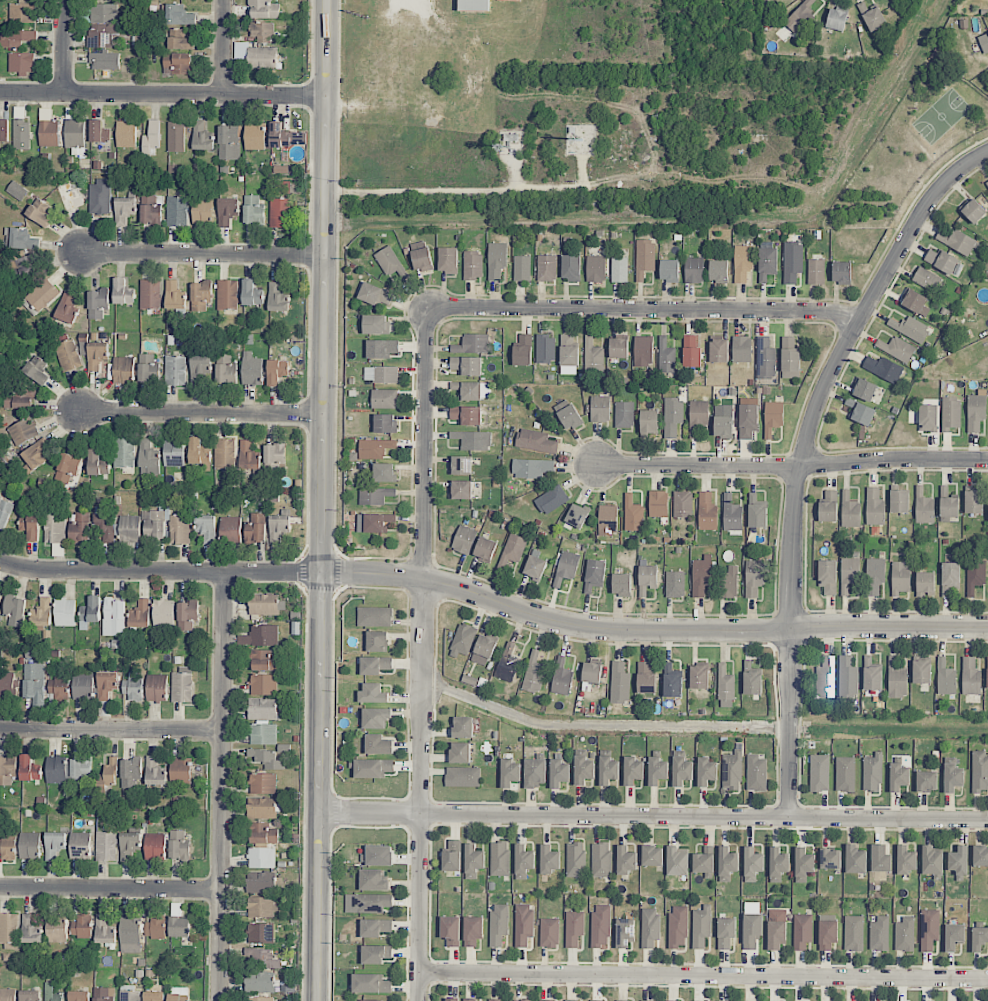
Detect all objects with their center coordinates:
road: (409, 4)
building: (474, 5)
building: (264, 9)
building: (22, 12)
building: (178, 15)
building: (801, 16)
building: (872, 16)
building: (836, 19)
building: (102, 25)
building: (261, 31)
building: (16, 38)
building: (180, 40)
building: (984, 43)
road: (65, 47)
road: (223, 48)
building: (261, 57)
building: (104, 60)
building: (21, 63)
building: (177, 63)
road: (163, 95)
building: (48, 129)
building: (4, 130)
building: (98, 131)
building: (21, 134)
building: (126, 134)
building: (74, 135)
building: (202, 136)
building: (254, 136)
building: (284, 136)
building: (175, 137)
building: (151, 138)
building: (229, 142)
building: (987, 183)
building: (16, 190)
building: (70, 195)
building: (99, 197)
building: (124, 210)
building: (150, 210)
building: (202, 210)
building: (253, 210)
building: (973, 210)
building: (177, 211)
building: (227, 211)
building: (39, 212)
building: (280, 212)
building: (21, 238)
building: (959, 242)
road: (204, 256)
building: (645, 258)
building: (422, 259)
building: (448, 260)
building: (497, 260)
building: (942, 260)
building: (389, 261)
building: (792, 261)
building: (743, 262)
building: (767, 263)
building: (473, 265)
building: (21, 266)
building: (571, 267)
building: (522, 268)
building: (547, 268)
building: (596, 268)
building: (619, 269)
building: (694, 269)
building: (669, 270)
building: (718, 271)
building: (816, 271)
building: (842, 272)
building: (926, 279)
road: (324, 286)
building: (123, 292)
building: (252, 293)
building: (42, 294)
building: (150, 294)
building: (227, 294)
building: (375, 294)
building: (201, 295)
building: (174, 296)
building: (277, 297)
building: (98, 303)
building: (916, 303)
building: (66, 308)
road: (643, 310)
building: (376, 324)
building: (909, 328)
building: (473, 343)
building: (382, 348)
building: (545, 348)
building: (619, 348)
building: (896, 348)
building: (742, 349)
building: (523, 350)
building: (719, 350)
building: (569, 351)
building: (643, 351)
building: (691, 352)
building: (96, 354)
building: (68, 355)
building: (593, 356)
building: (666, 356)
building: (765, 358)
building: (790, 358)
building: (467, 365)
building: (148, 368)
building: (199, 368)
building: (883, 368)
building: (226, 369)
building: (252, 369)
building: (123, 370)
building: (175, 370)
building: (277, 371)
building: (381, 374)
building: (865, 389)
building: (469, 390)
building: (18, 398)
building: (384, 398)
building: (600, 408)
building: (976, 410)
building: (860, 411)
building: (951, 413)
building: (568, 414)
building: (624, 414)
road: (202, 415)
building: (466, 415)
building: (672, 416)
building: (697, 417)
building: (773, 417)
building: (928, 417)
building: (748, 420)
building: (649, 421)
building: (385, 423)
building: (723, 427)
building: (23, 431)
building: (473, 440)
building: (536, 441)
building: (375, 448)
building: (124, 452)
building: (174, 453)
building: (199, 453)
building: (224, 453)
building: (35, 455)
building: (249, 456)
road: (803, 457)
building: (149, 458)
building: (98, 462)
road: (793, 463)
building: (461, 465)
building: (68, 467)
building: (532, 468)
building: (384, 472)
building: (461, 489)
building: (375, 495)
building: (552, 499)
building: (899, 501)
building: (974, 501)
building: (658, 503)
building: (682, 504)
building: (948, 505)
building: (923, 506)
building: (828, 507)
building: (875, 507)
building: (850, 511)
building: (707, 512)
building: (757, 512)
building: (4, 514)
building: (633, 514)
building: (577, 515)
building: (732, 516)
building: (607, 520)
building: (374, 522)
building: (154, 525)
building: (30, 526)
building: (206, 526)
building: (80, 527)
building: (106, 527)
building: (278, 527)
building: (55, 528)
building: (130, 528)
building: (180, 529)
building: (231, 529)
building: (255, 529)
building: (464, 540)
building: (485, 549)
building: (512, 550)
building: (535, 567)
building: (566, 567)
road: (112, 571)
road: (273, 573)
building: (849, 574)
building: (951, 574)
building: (594, 575)
building: (701, 575)
building: (875, 575)
building: (975, 575)
building: (828, 576)
building: (901, 577)
building: (647, 578)
building: (753, 578)
building: (728, 582)
building: (925, 583)
building: (622, 584)
building: (675, 584)
building: (0, 595)
building: (266, 605)
building: (15, 610)
building: (42, 610)
building: (65, 612)
building: (90, 612)
building: (163, 612)
building: (140, 614)
building: (187, 615)
building: (374, 616)
building: (114, 617)
road: (651, 631)
building: (260, 636)
building: (463, 640)
building: (377, 641)
building: (484, 650)
road: (423, 654)
building: (260, 659)
building: (508, 663)
building: (375, 665)
building: (921, 671)
building: (592, 672)
building: (534, 673)
building: (987, 673)
building: (872, 675)
building: (699, 676)
building: (970, 676)
building: (562, 677)
building: (646, 677)
building: (825, 677)
building: (848, 677)
building: (945, 678)
building: (752, 679)
building: (896, 679)
building: (672, 681)
building: (619, 683)
building: (35, 684)
building: (106, 684)
building: (263, 684)
building: (7, 686)
building: (83, 686)
building: (182, 687)
building: (726, 687)
building: (133, 688)
building: (157, 688)
building: (59, 689)
building: (373, 693)
building: (262, 709)
building: (376, 717)
road: (601, 725)
building: (463, 726)
road: (112, 730)
building: (263, 734)
building: (378, 744)
building: (460, 752)
building: (265, 758)
building: (372, 767)
building: (29, 768)
building: (7, 769)
building: (56, 769)
building: (584, 769)
building: (80, 770)
building: (608, 770)
building: (633, 770)
building: (657, 770)
building: (682, 770)
building: (732, 770)
building: (131, 771)
building: (180, 771)
building: (707, 771)
building: (155, 772)
building: (509, 772)
building: (535, 772)
building: (873, 772)
building: (979, 772)
building: (108, 773)
building: (559, 773)
building: (756, 773)
building: (819, 773)
building: (845, 774)
building: (462, 776)
building: (898, 776)
building: (953, 777)
building: (927, 781)
building: (262, 783)
road: (223, 787)
road: (319, 787)
building: (261, 808)
road: (653, 816)
building: (263, 833)
building: (55, 844)
building: (80, 844)
building: (30, 845)
building: (129, 845)
building: (179, 845)
building: (106, 846)
building: (155, 846)
building: (7, 849)
building: (379, 855)
building: (452, 856)
building: (652, 856)
building: (980, 856)
building: (261, 857)
building: (499, 858)
building: (703, 858)
building: (830, 858)
building: (880, 858)
building: (549, 859)
building: (855, 859)
building: (906, 859)
building: (575, 860)
building: (601, 860)
building: (626, 860)
building: (932, 860)
building: (958, 860)
building: (473, 861)
building: (677, 862)
building: (727, 863)
building: (752, 864)
building: (778, 864)
building: (803, 864)
building: (374, 880)
building: (261, 882)
road: (111, 890)
building: (368, 903)
building: (261, 907)
building: (498, 924)
building: (523, 924)
building: (179, 926)
building: (600, 926)
building: (678, 926)
building: (701, 926)
building: (81, 927)
building: (155, 927)
building: (375, 927)
building: (650, 927)
building: (57, 928)
building: (574, 928)
building: (929, 928)
building: (776, 929)
building: (9, 930)
building: (31, 930)
building: (104, 930)
building: (451, 930)
building: (473, 930)
building: (752, 930)
building: (802, 931)
building: (549, 932)
building: (625, 932)
building: (726, 932)
building: (261, 933)
building: (854, 933)
building: (828, 934)
building: (879, 934)
building: (905, 934)
building: (130, 935)
building: (954, 936)
building: (979, 938)
building: (376, 954)
road: (704, 977)
building: (371, 983)
building: (53, 993)
building: (129, 993)
building: (7, 994)
building: (104, 994)
building: (30, 995)
building: (79, 995)
building: (179, 995)
building: (154, 996)
building: (260, 998)
building: (452, 999)
building: (469, 999)
building: (384, 1000)
building: (523, 1000)
building: (545, 1000)
building: (571, 1000)
building: (596, 1000)
building: (622, 1000)
building: (648, 1000)
building: (677, 1000)

